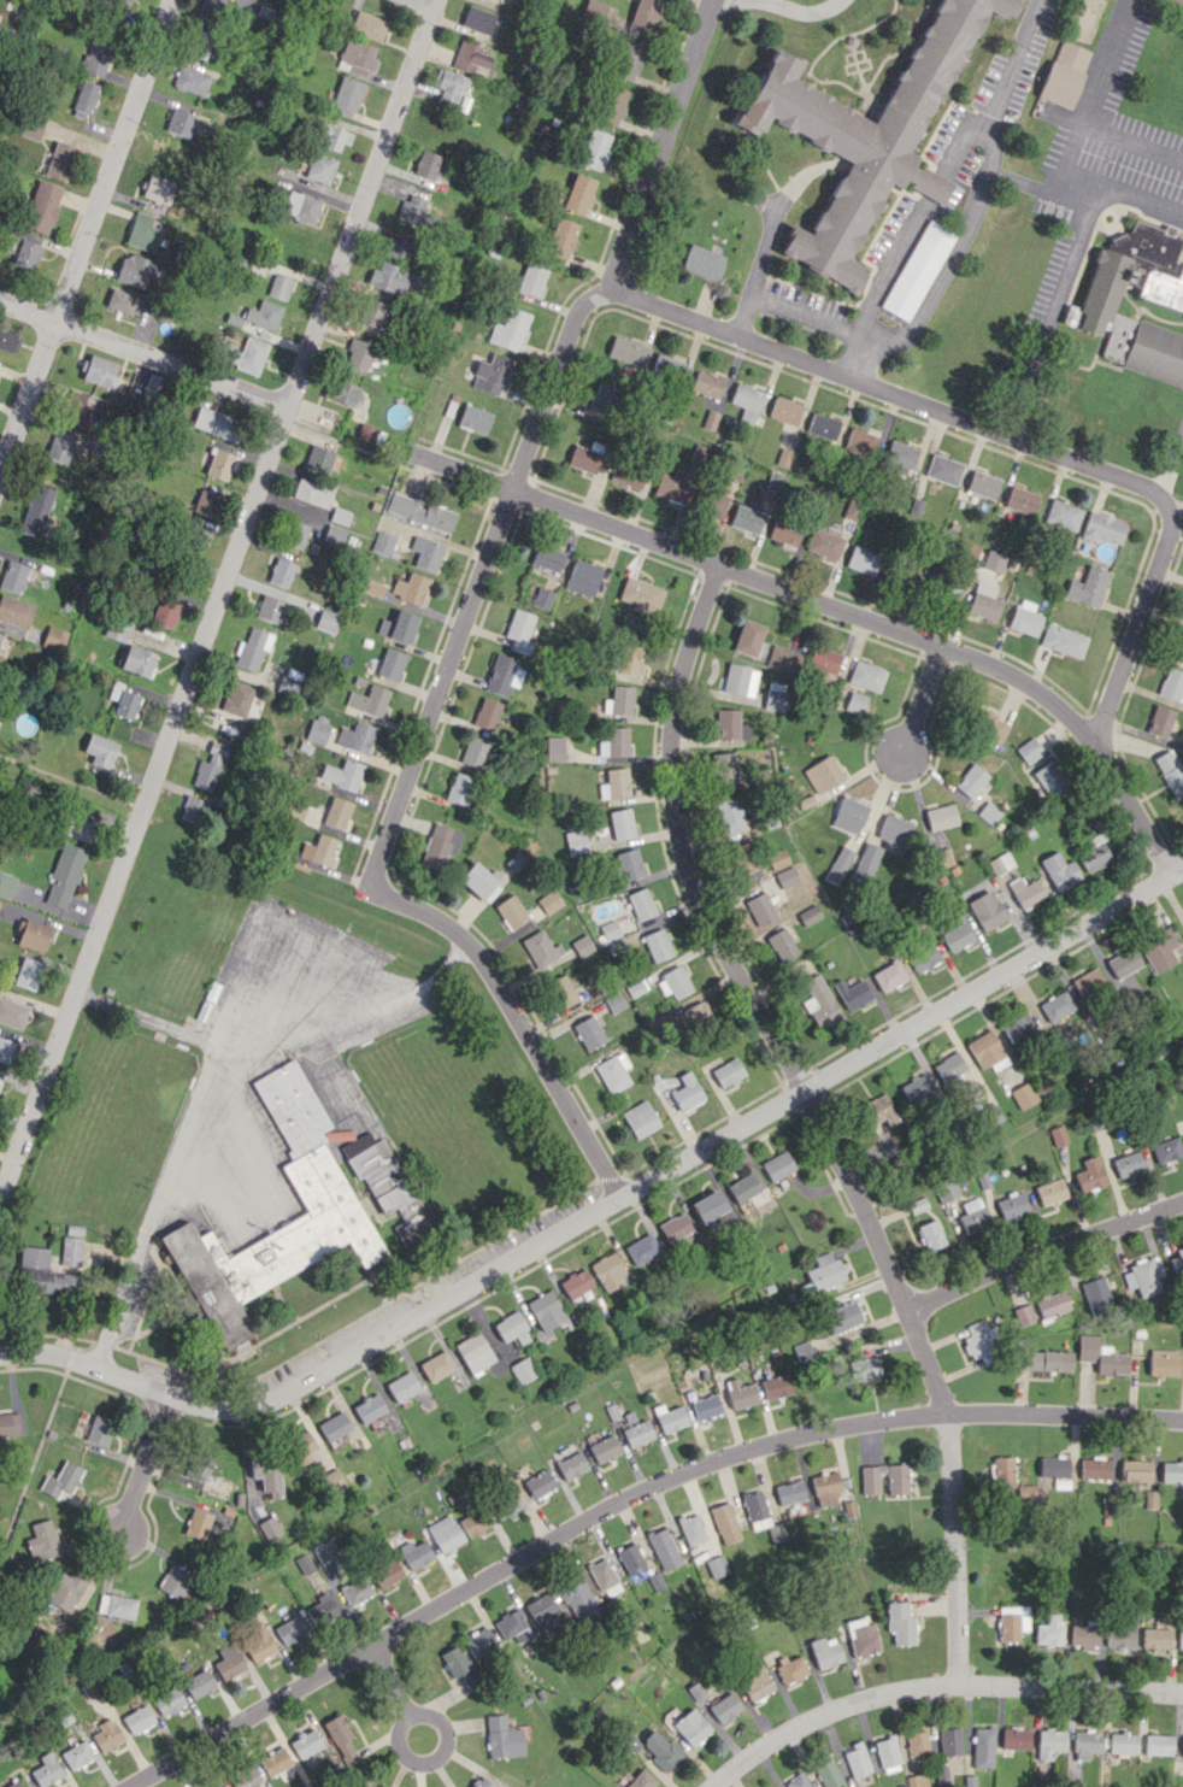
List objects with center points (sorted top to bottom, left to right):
road: (728, 0)
road: (423, 4)
building: (230, 8)
building: (594, 8)
road: (794, 8)
building: (645, 16)
building: (477, 19)
building: (367, 25)
building: (199, 43)
building: (98, 52)
building: (357, 57)
building: (469, 57)
building: (628, 60)
building: (1064, 74)
building: (189, 77)
building: (449, 84)
building: (346, 96)
building: (83, 99)
road: (1089, 104)
building: (612, 105)
building: (179, 123)
building: (30, 129)
building: (866, 135)
building: (330, 137)
road: (658, 146)
building: (594, 149)
building: (59, 160)
building: (425, 164)
building: (319, 167)
road: (936, 178)
building: (158, 188)
building: (578, 193)
building: (42, 206)
building: (300, 206)
building: (411, 207)
road: (770, 222)
building: (143, 231)
road: (86, 237)
building: (560, 237)
building: (396, 246)
road: (1075, 247)
building: (27, 253)
building: (239, 259)
building: (701, 261)
building: (134, 270)
building: (918, 270)
building: (392, 277)
building: (530, 280)
building: (278, 286)
building: (1163, 288)
building: (1100, 295)
building: (123, 301)
road: (784, 313)
building: (263, 315)
building: (371, 316)
building: (507, 329)
building: (8, 340)
building: (626, 351)
road: (142, 354)
building: (243, 354)
building: (358, 354)
building: (669, 368)
building: (102, 374)
building: (489, 374)
building: (706, 384)
building: (153, 386)
building: (345, 393)
building: (599, 398)
building: (746, 401)
building: (785, 410)
building: (83, 412)
building: (473, 418)
building: (710, 419)
building: (216, 423)
building: (823, 425)
building: (366, 433)
road: (1017, 439)
building: (861, 442)
building: (60, 446)
building: (901, 453)
building: (783, 457)
building: (319, 458)
building: (582, 459)
road: (1170, 459)
building: (219, 464)
building: (944, 469)
building: (625, 475)
building: (775, 481)
building: (983, 484)
building: (670, 487)
building: (310, 493)
building: (1022, 499)
building: (206, 502)
building: (713, 505)
building: (916, 506)
building: (35, 509)
building: (419, 512)
building: (1063, 515)
building: (340, 516)
building: (746, 518)
building: (1102, 528)
building: (785, 531)
building: (298, 535)
building: (334, 535)
building: (194, 540)
building: (383, 542)
building: (824, 543)
building: (426, 552)
building: (965, 552)
building: (546, 557)
building: (863, 559)
building: (993, 560)
building: (281, 571)
building: (12, 576)
building: (581, 577)
building: (373, 587)
building: (1087, 587)
building: (411, 588)
building: (640, 594)
road: (218, 598)
building: (541, 598)
building: (983, 602)
road: (837, 607)
building: (269, 609)
building: (16, 611)
building: (164, 612)
building: (1024, 617)
building: (1182, 618)
building: (326, 619)
building: (399, 625)
building: (518, 629)
building: (747, 636)
building: (54, 637)
building: (1061, 640)
building: (1, 641)
building: (252, 648)
building: (1179, 648)
building: (629, 659)
building: (782, 659)
building: (823, 659)
building: (137, 660)
building: (390, 663)
building: (501, 675)
building: (866, 675)
building: (740, 680)
building: (289, 681)
building: (1171, 683)
building: (775, 695)
building: (236, 699)
building: (123, 700)
building: (369, 700)
building: (618, 700)
building: (855, 703)
road: (918, 706)
building: (485, 712)
building: (1159, 721)
building: (729, 724)
building: (987, 724)
building: (317, 731)
building: (355, 736)
building: (614, 741)
building: (1179, 742)
building: (553, 747)
building: (100, 750)
building: (1028, 750)
building: (473, 751)
building: (208, 766)
building: (723, 766)
road: (410, 769)
building: (1170, 771)
building: (342, 774)
building: (822, 774)
building: (1049, 777)
building: (971, 781)
road: (71, 783)
building: (613, 783)
building: (459, 788)
building: (294, 809)
building: (195, 810)
building: (336, 812)
building: (989, 812)
building: (729, 815)
building: (848, 815)
building: (940, 816)
building: (620, 823)
building: (76, 828)
building: (893, 833)
building: (575, 841)
building: (439, 846)
building: (318, 848)
building: (1095, 852)
building: (941, 857)
building: (741, 858)
building: (777, 859)
building: (866, 860)
building: (1000, 863)
building: (629, 864)
building: (838, 864)
building: (1059, 870)
building: (64, 875)
building: (785, 877)
building: (478, 882)
building: (6, 884)
building: (1026, 892)
building: (548, 901)
building: (640, 904)
building: (760, 909)
building: (985, 910)
building: (510, 911)
building: (810, 915)
building: (608, 928)
building: (33, 935)
building: (957, 936)
building: (781, 944)
building: (657, 945)
building: (540, 948)
building: (1158, 950)
building: (924, 957)
building: (1123, 962)
building: (27, 972)
building: (889, 975)
building: (673, 982)
building: (1088, 982)
building: (636, 987)
building: (560, 992)
building: (852, 993)
building: (613, 1001)
building: (819, 1001)
building: (1057, 1006)
building: (12, 1012)
building: (695, 1013)
road: (159, 1022)
building: (1017, 1027)
building: (588, 1033)
building: (5, 1048)
building: (987, 1051)
building: (949, 1066)
building: (612, 1071)
building: (726, 1072)
building: (0, 1081)
building: (916, 1087)
building: (685, 1092)
building: (1023, 1095)
building: (877, 1110)
road: (813, 1115)
building: (640, 1118)
building: (1058, 1135)
building: (1166, 1150)
building: (1128, 1163)
building: (776, 1164)
building: (1089, 1174)
road: (269, 1183)
building: (385, 1183)
building: (742, 1187)
building: (322, 1189)
building: (944, 1189)
building: (1050, 1191)
road: (607, 1205)
building: (707, 1205)
building: (1012, 1206)
building: (972, 1215)
building: (673, 1227)
building: (930, 1235)
building: (641, 1248)
building: (70, 1250)
road: (1041, 1252)
building: (34, 1256)
building: (1177, 1260)
building: (608, 1271)
building: (824, 1274)
building: (1143, 1276)
building: (49, 1280)
building: (575, 1282)
building: (1096, 1294)
building: (1052, 1303)
building: (545, 1310)
building: (1024, 1313)
building: (843, 1317)
building: (511, 1328)
building: (982, 1340)
building: (1182, 1344)
building: (473, 1351)
building: (802, 1351)
building: (1101, 1356)
building: (1047, 1360)
building: (435, 1365)
building: (1164, 1365)
building: (864, 1368)
building: (523, 1370)
building: (401, 1386)
building: (776, 1386)
building: (740, 1393)
building: (706, 1406)
building: (369, 1407)
building: (670, 1417)
building: (8, 1424)
building: (334, 1426)
building: (99, 1429)
building: (638, 1433)
building: (301, 1447)
building: (605, 1448)
road: (147, 1462)
building: (571, 1465)
building: (1054, 1466)
building: (1095, 1468)
building: (1136, 1470)
building: (1172, 1470)
building: (193, 1471)
building: (1002, 1471)
building: (266, 1474)
building: (871, 1479)
building: (896, 1479)
building: (61, 1481)
building: (540, 1483)
building: (825, 1487)
building: (1025, 1491)
building: (789, 1492)
building: (1150, 1499)
building: (507, 1506)
building: (754, 1506)
building: (1107, 1506)
road: (625, 1507)
building: (848, 1509)
building: (473, 1522)
building: (196, 1523)
building: (725, 1523)
building: (269, 1528)
building: (691, 1528)
building: (776, 1532)
building: (445, 1533)
building: (42, 1540)
building: (663, 1548)
building: (414, 1553)
building: (329, 1558)
building: (630, 1558)
building: (304, 1564)
building: (717, 1565)
building: (385, 1573)
building: (604, 1577)
building: (172, 1580)
building: (657, 1582)
building: (65, 1591)
building: (355, 1591)
building: (578, 1598)
building: (117, 1605)
building: (322, 1610)
building: (542, 1610)
building: (1012, 1622)
building: (899, 1623)
building: (511, 1626)
building: (290, 1629)
building: (1049, 1630)
building: (860, 1635)
building: (1084, 1635)
building: (1119, 1635)
building: (1154, 1638)
building: (1179, 1639)
building: (478, 1641)
building: (258, 1644)
building: (825, 1651)
building: (228, 1662)
building: (458, 1664)
building: (790, 1668)
road: (387, 1679)
building: (754, 1682)
building: (199, 1683)
road: (935, 1686)
building: (169, 1700)
building: (724, 1706)
road: (406, 1712)
building: (137, 1718)
building: (690, 1727)
building: (106, 1735)
building: (340, 1738)
building: (502, 1738)
building: (1016, 1738)
building: (950, 1741)
building: (1050, 1742)
building: (1122, 1742)
building: (305, 1744)
building: (918, 1744)
building: (1085, 1744)
building: (1158, 1744)
building: (984, 1746)
building: (1182, 1746)
building: (659, 1748)
building: (888, 1753)
building: (76, 1754)
building: (857, 1758)
building: (273, 1760)
building: (46, 1769)
building: (828, 1773)
building: (942, 1775)
building: (243, 1777)
building: (641, 1780)
building: (918, 1780)
building: (798, 1781)
building: (482, 1782)
building: (13, 1783)
building: (365, 1783)
building: (219, 1785)

